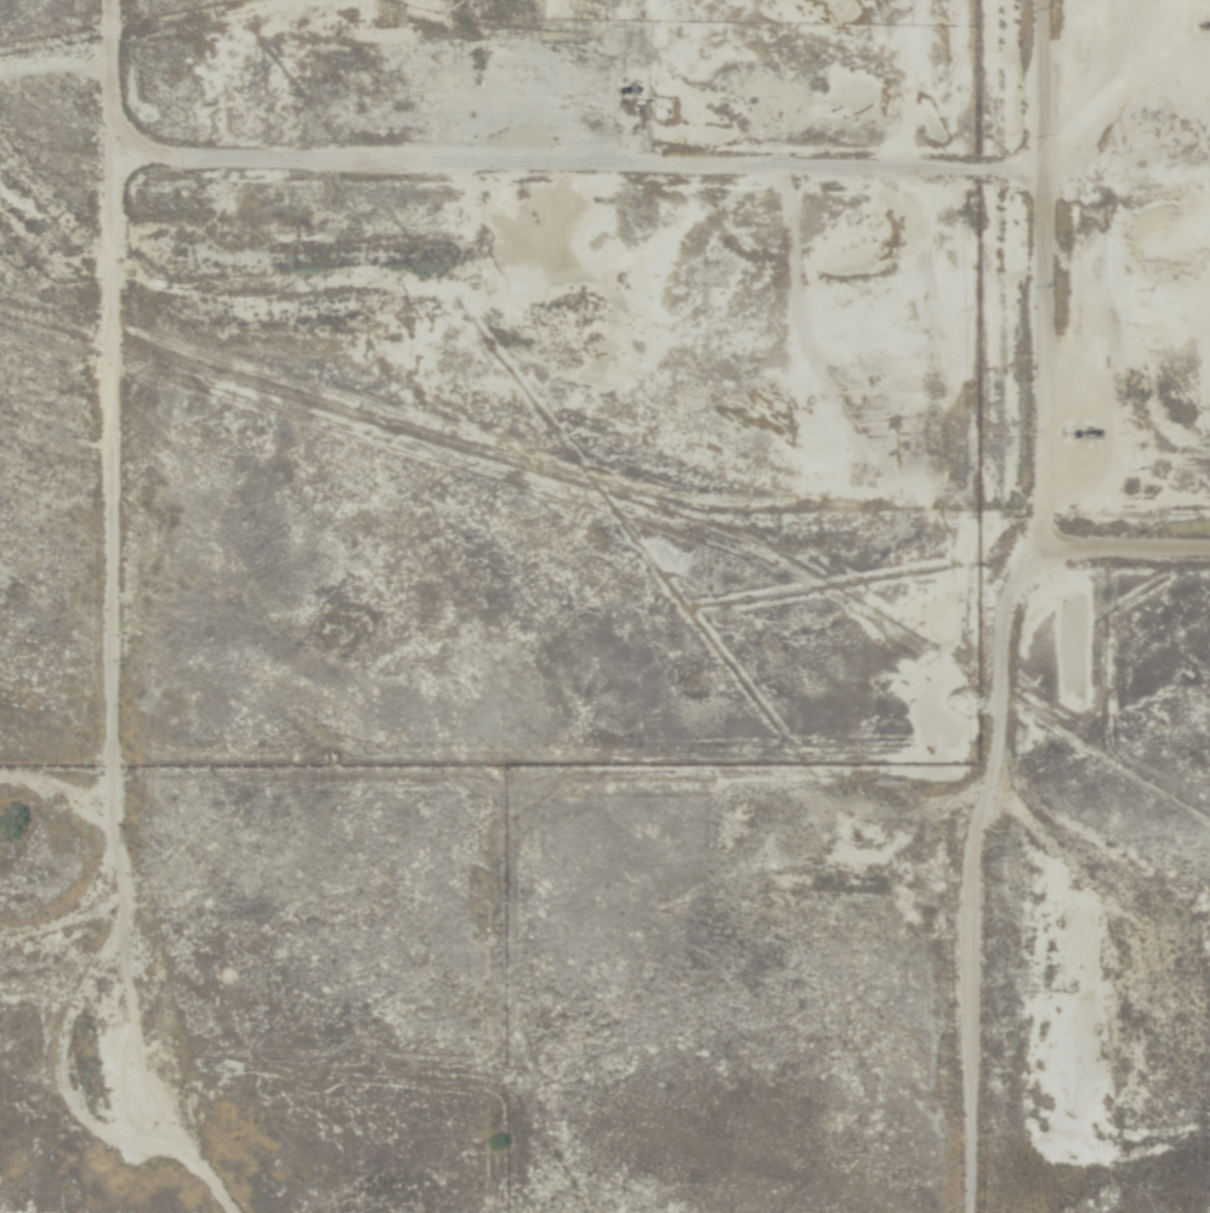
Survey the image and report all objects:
road: (1036, 126)
road: (1002, 249)
road: (1120, 529)
road: (92, 534)

